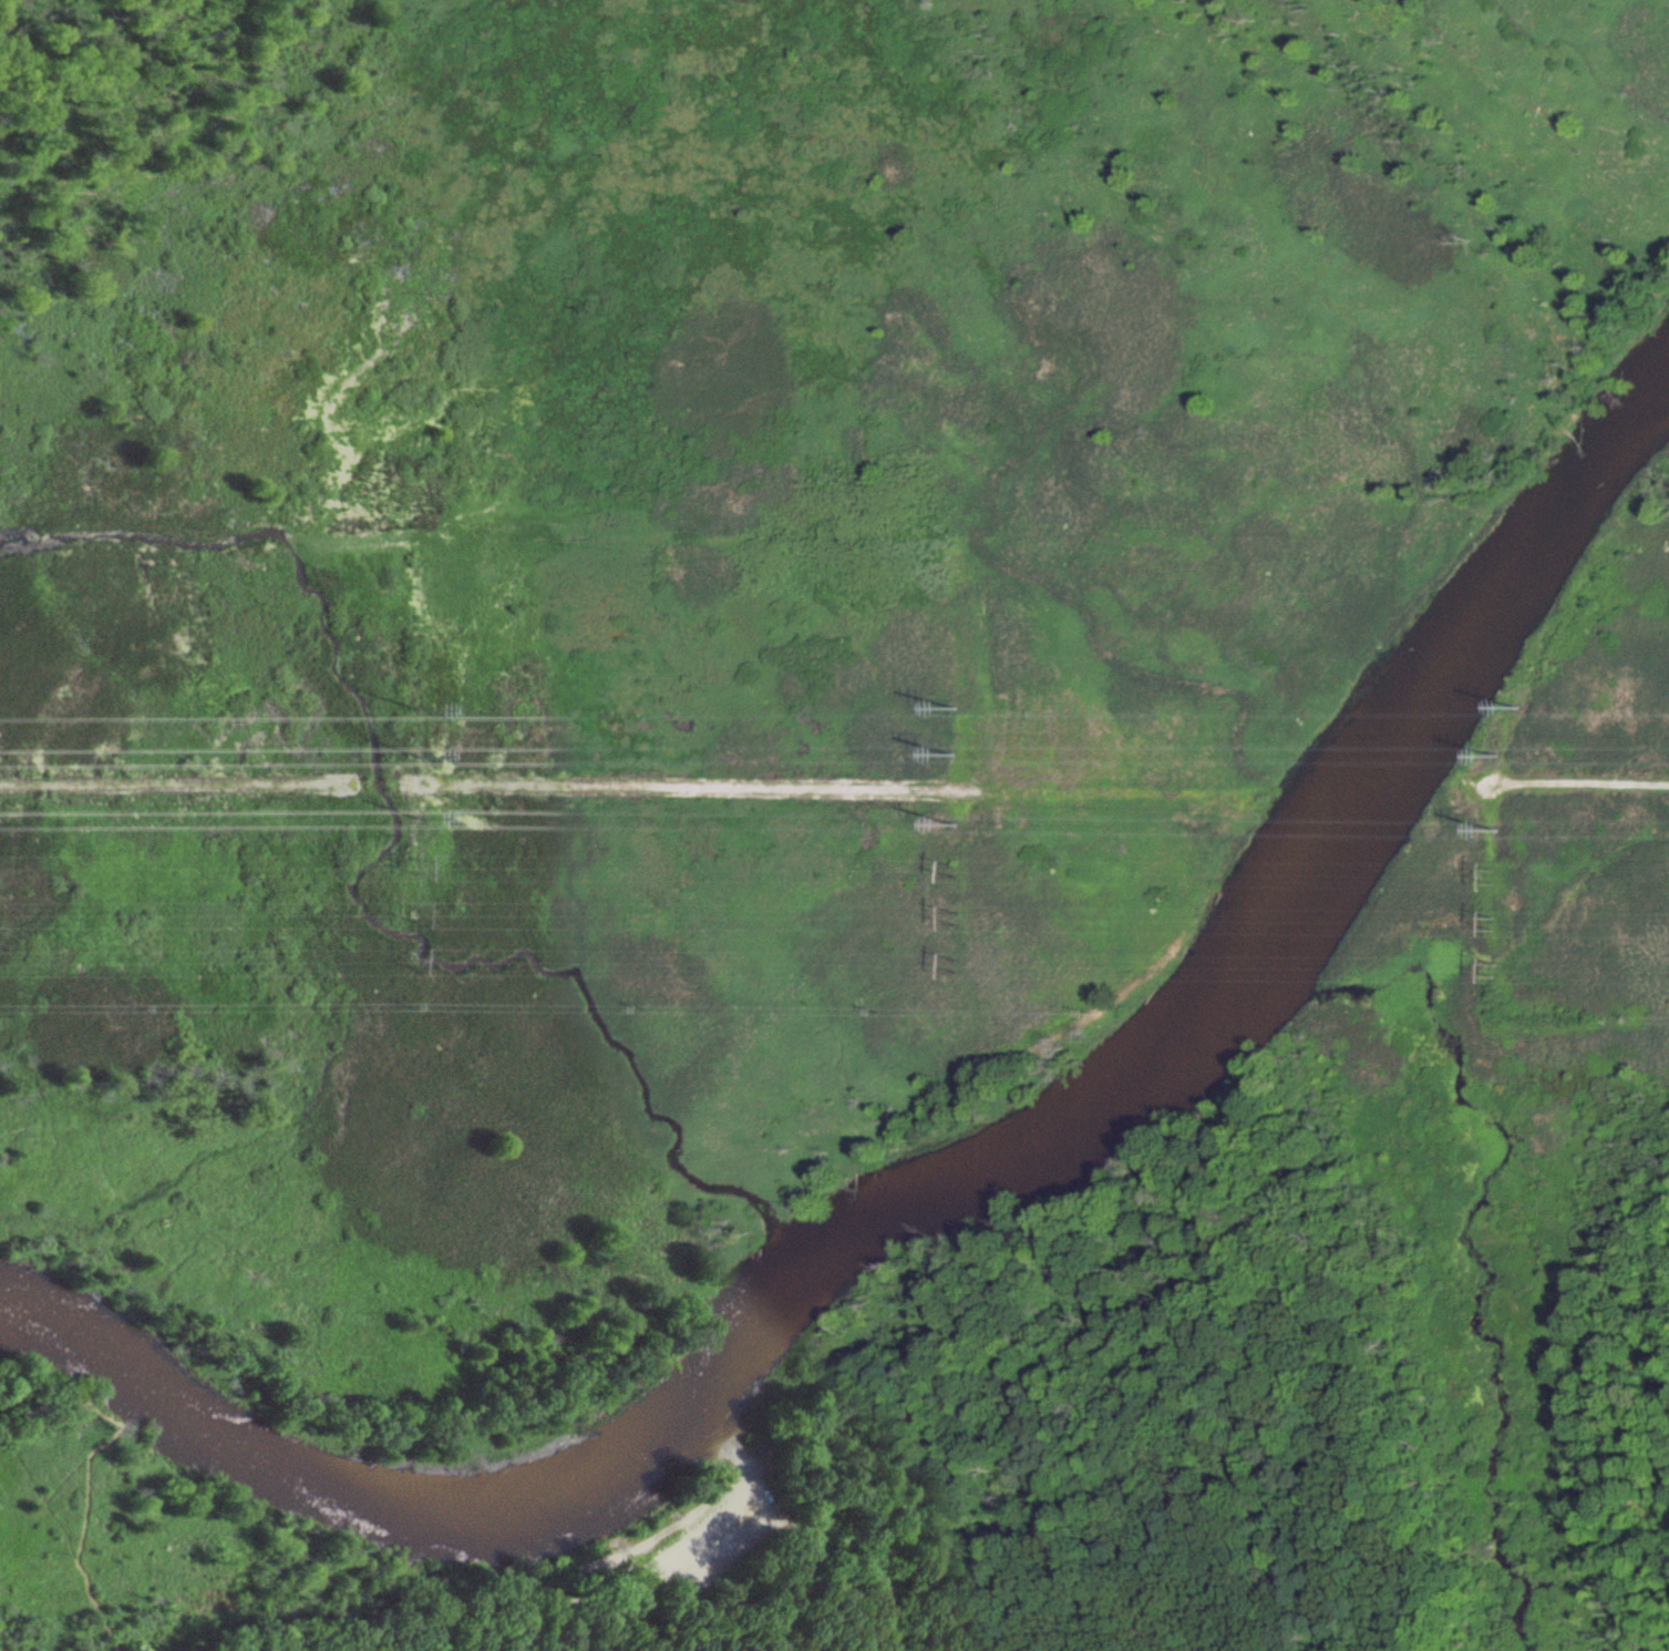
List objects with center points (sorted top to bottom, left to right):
power tower: (1517, 707)
power tower: (955, 709)
power tower: (411, 710)
power tower: (955, 751)
power tower: (1495, 753)
power tower: (413, 756)
road: (1582, 783)
power tower: (415, 814)
power tower: (957, 821)
power tower: (1497, 828)
power tower: (414, 864)
power tower: (958, 869)
power tower: (1495, 875)
power tower: (412, 911)
power tower: (959, 916)
power tower: (1495, 923)
power tower: (409, 957)
power tower: (959, 964)
power tower: (1494, 972)
river: (931, 1182)
road: (618, 1583)

